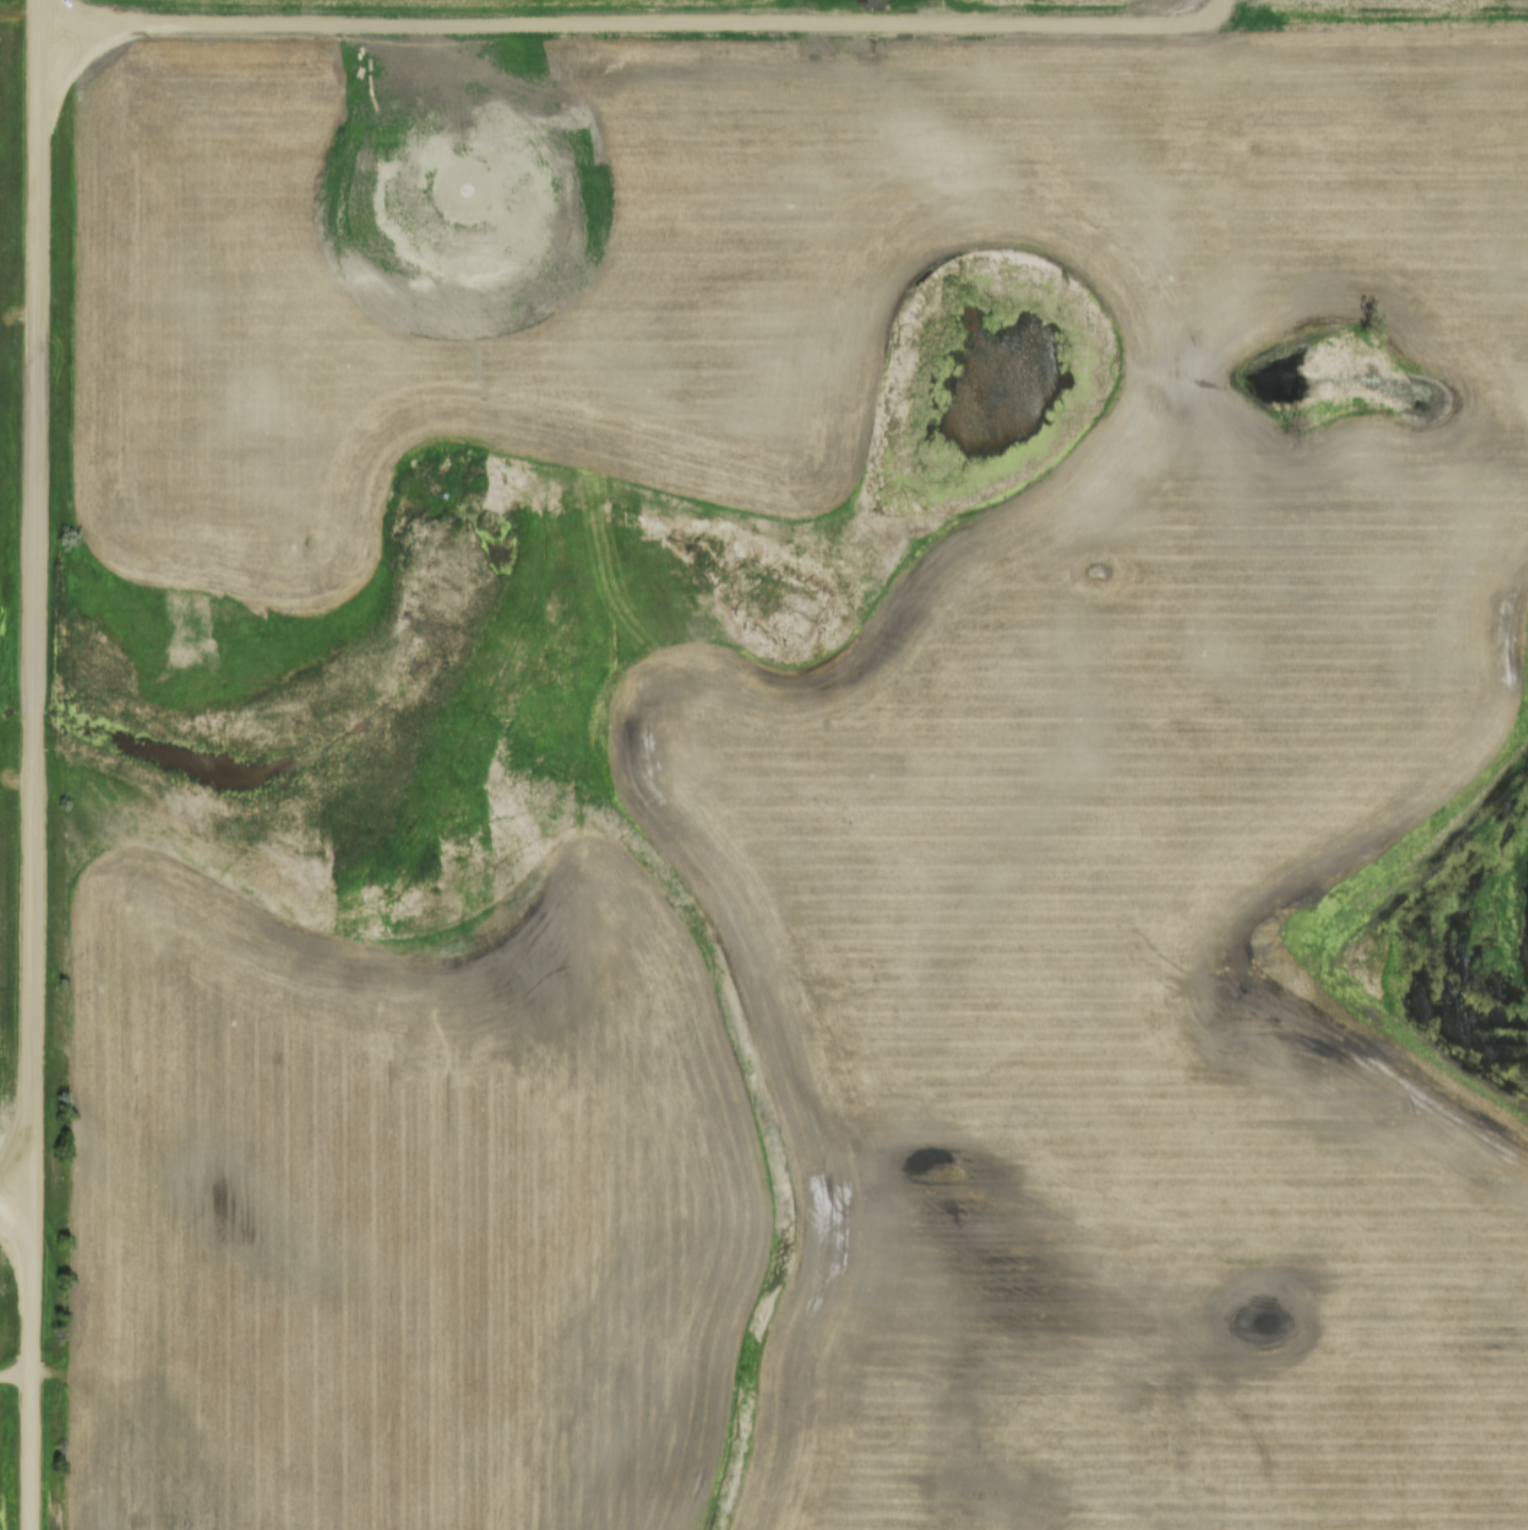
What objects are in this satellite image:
road: (19, 53)
wind turbine: (466, 192)
road: (33, 764)
road: (15, 1374)

